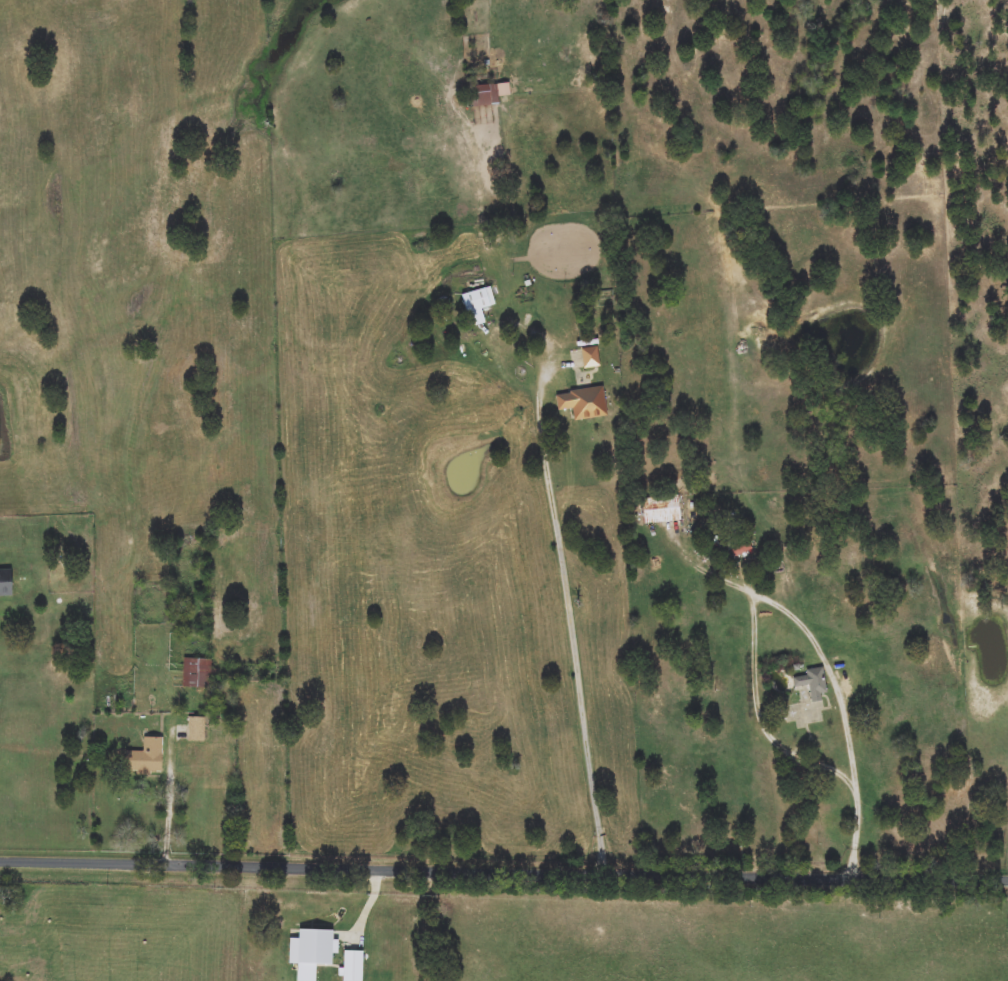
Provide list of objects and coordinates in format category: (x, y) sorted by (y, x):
building: (485, 96)
building: (477, 305)
building: (589, 357)
building: (582, 402)
building: (660, 510)
building: (740, 549)
building: (5, 582)
road: (789, 612)
road: (575, 651)
building: (198, 673)
building: (812, 682)
building: (196, 728)
building: (145, 757)
road: (173, 805)
road: (503, 870)

